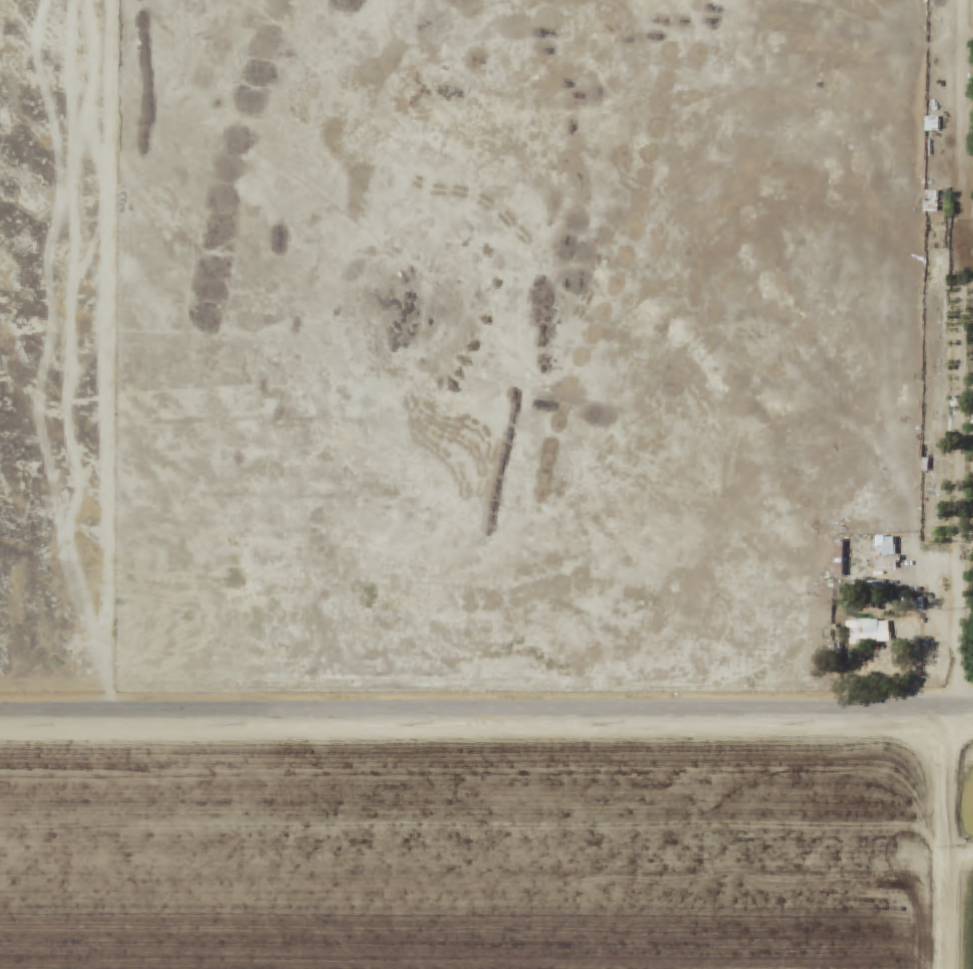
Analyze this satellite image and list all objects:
building: (933, 125)
building: (933, 202)
road: (952, 365)
building: (885, 546)
building: (865, 632)
road: (486, 708)
road: (929, 838)

